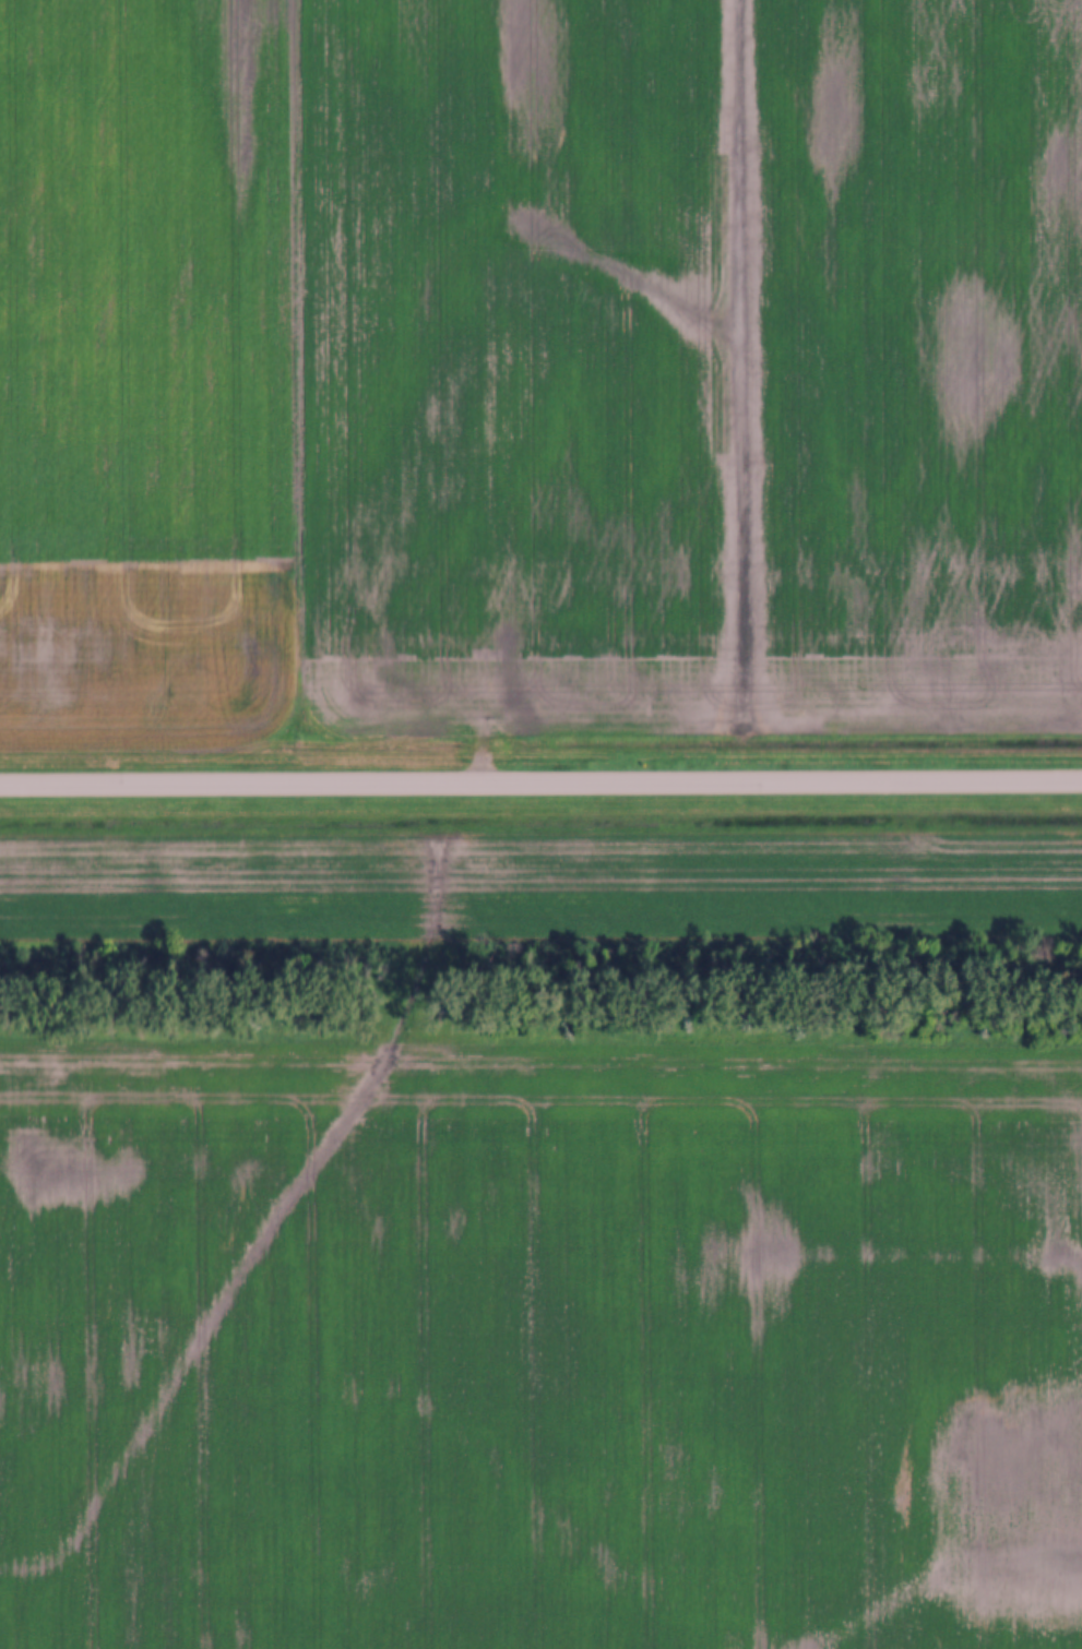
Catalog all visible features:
road: (540, 787)

